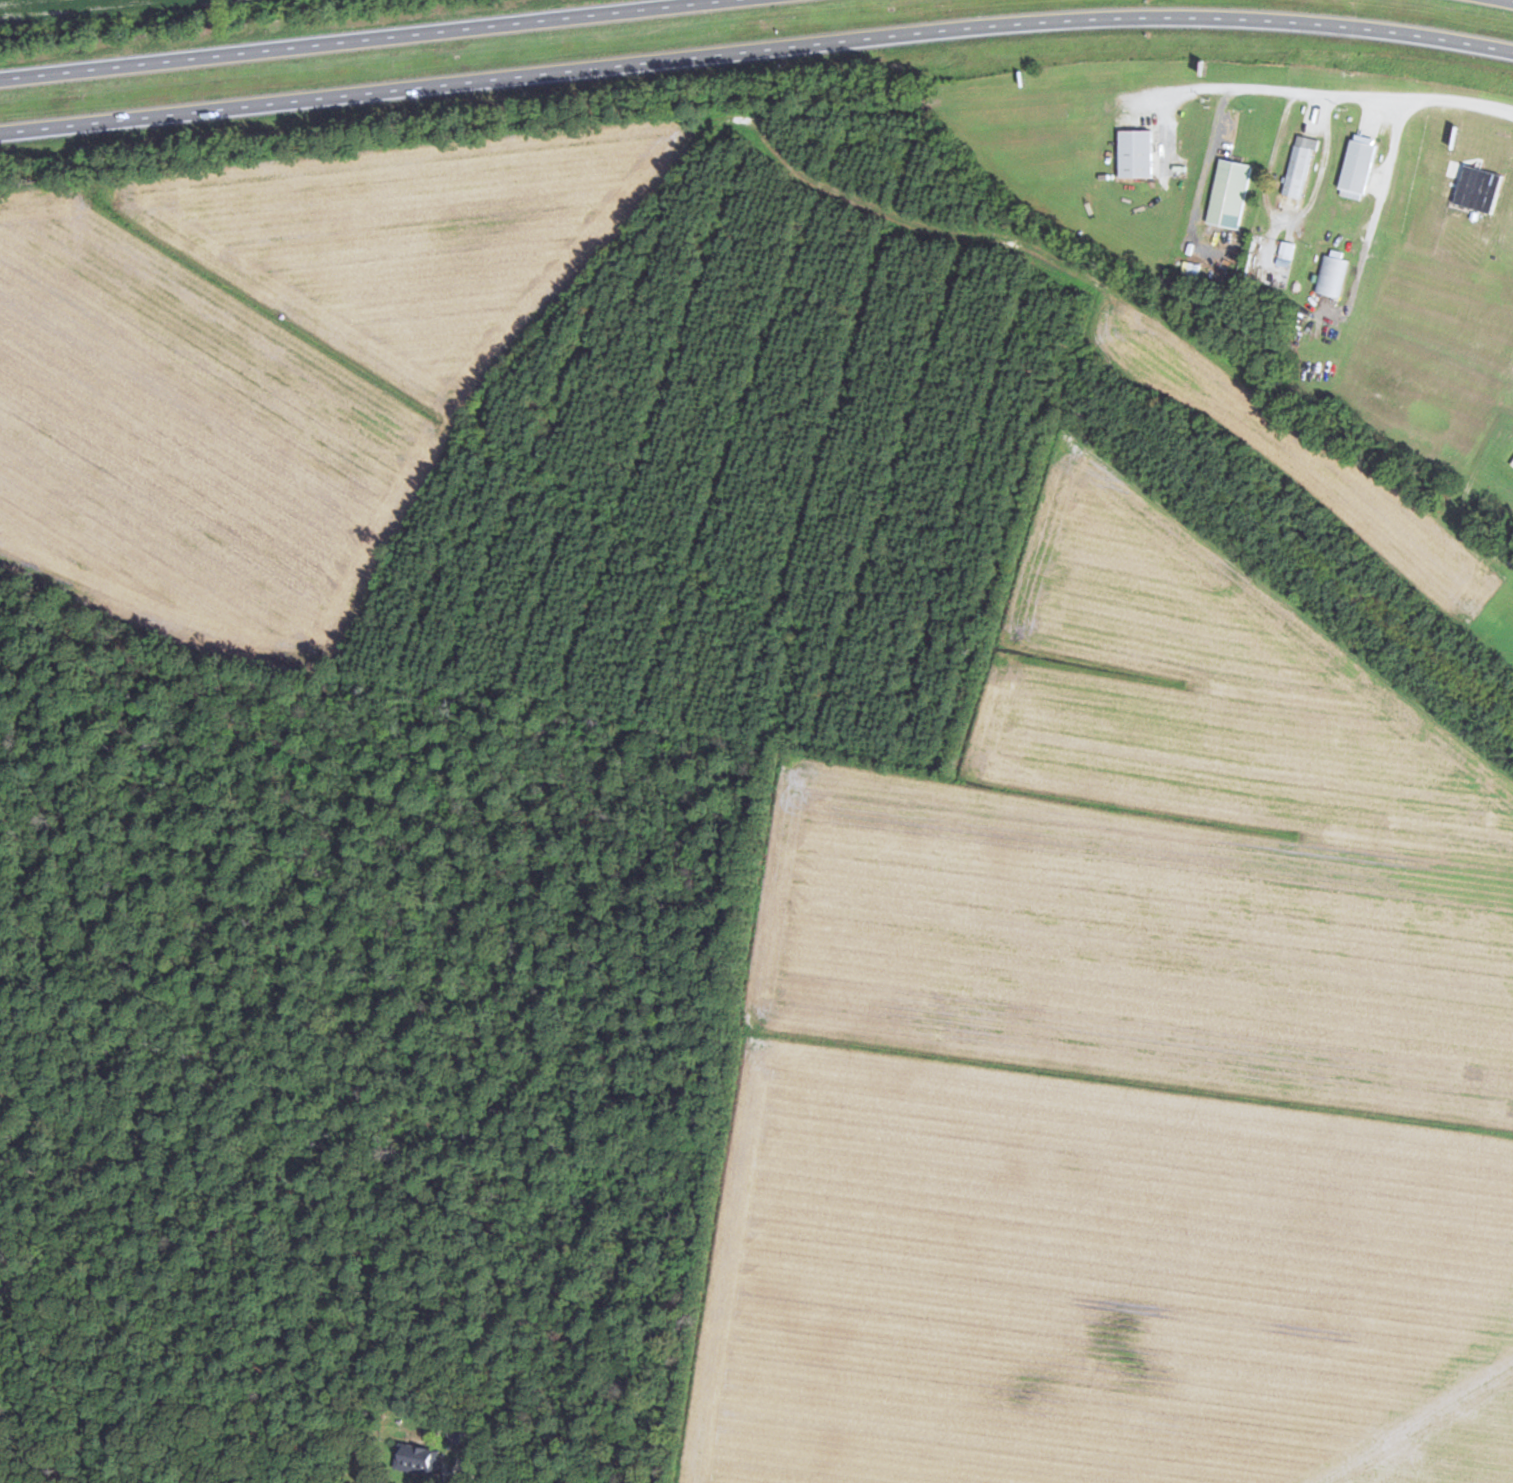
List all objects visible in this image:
road: (1330, 23)
road: (360, 39)
road: (572, 69)
road: (1329, 91)
building: (1137, 153)
building: (1298, 165)
building: (1358, 167)
building: (1228, 191)
building: (1286, 249)
building: (1330, 275)
road: (1503, 390)
building: (1511, 454)
road: (790, 1426)
building: (462, 1432)
building: (418, 1459)

